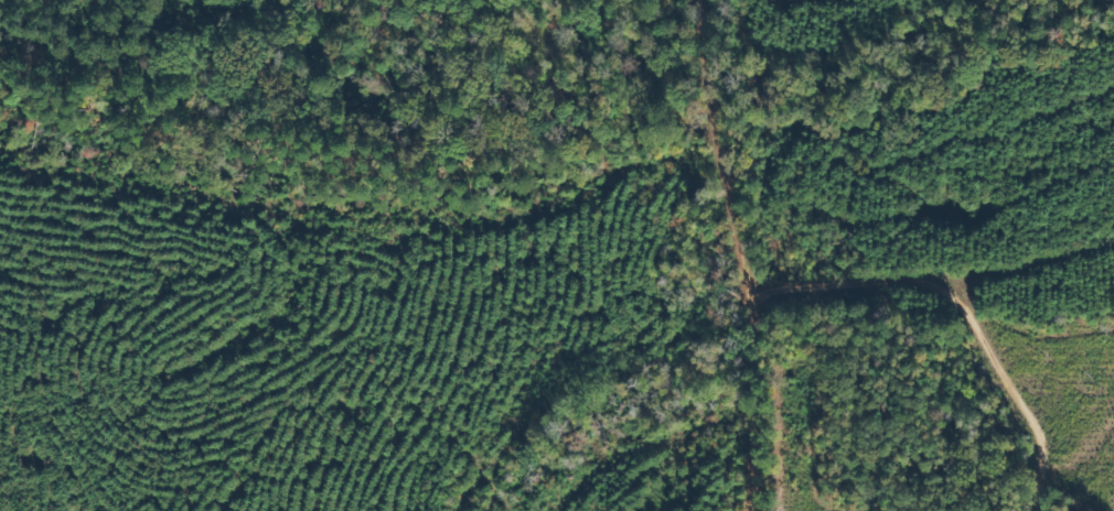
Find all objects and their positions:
road: (728, 157)
road: (758, 414)

